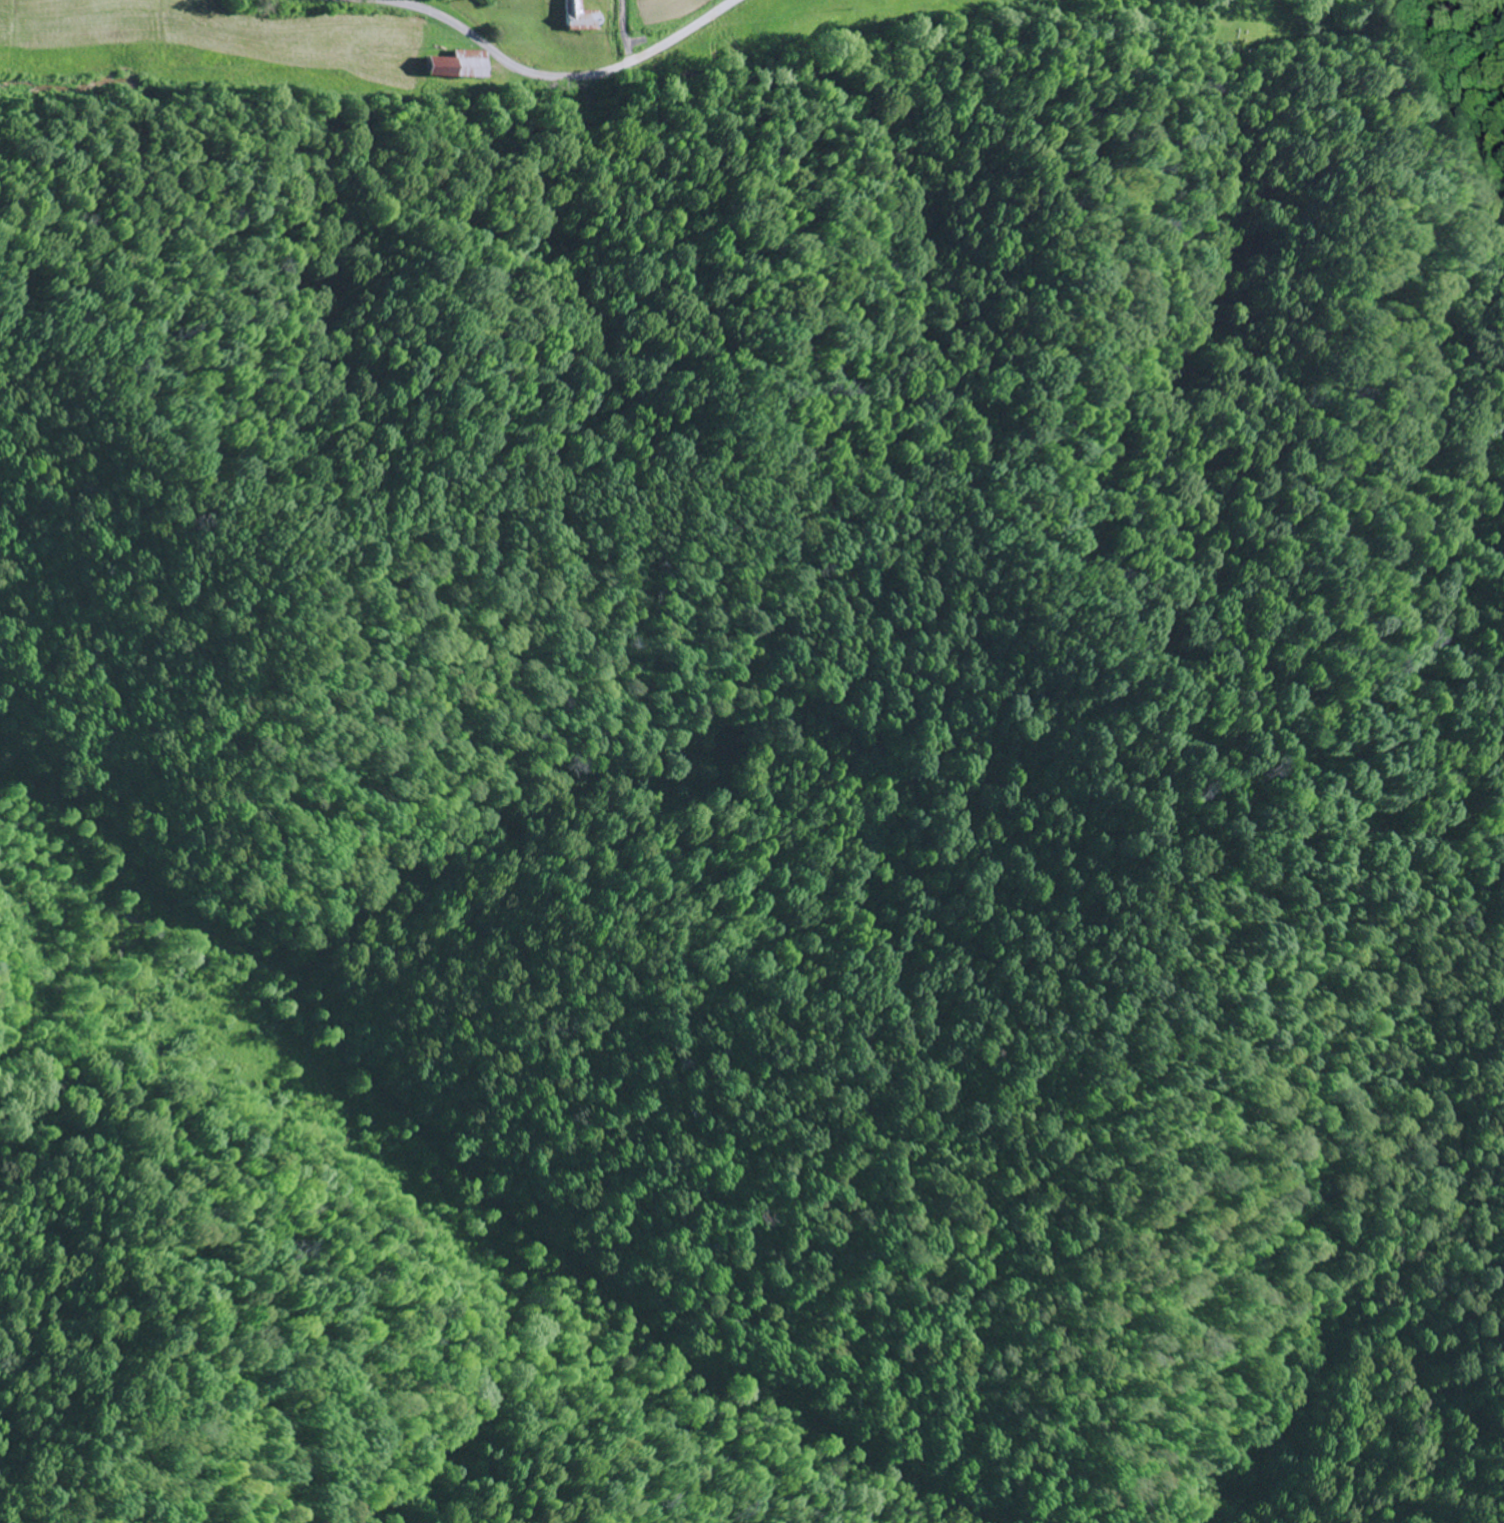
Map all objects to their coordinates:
building: (576, 18)
building: (455, 67)
road: (536, 75)

